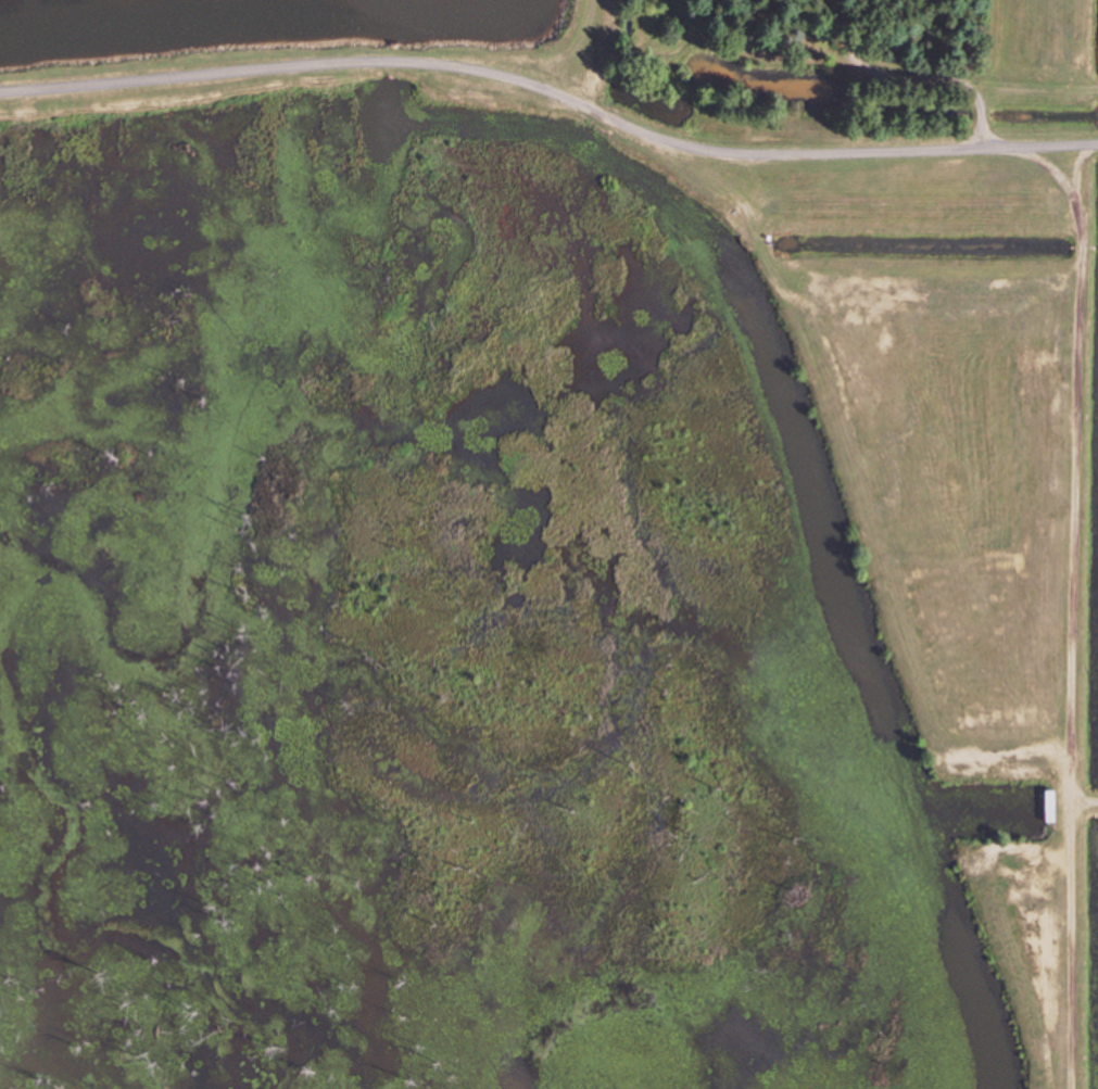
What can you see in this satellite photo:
road: (548, 149)
building: (1052, 807)

